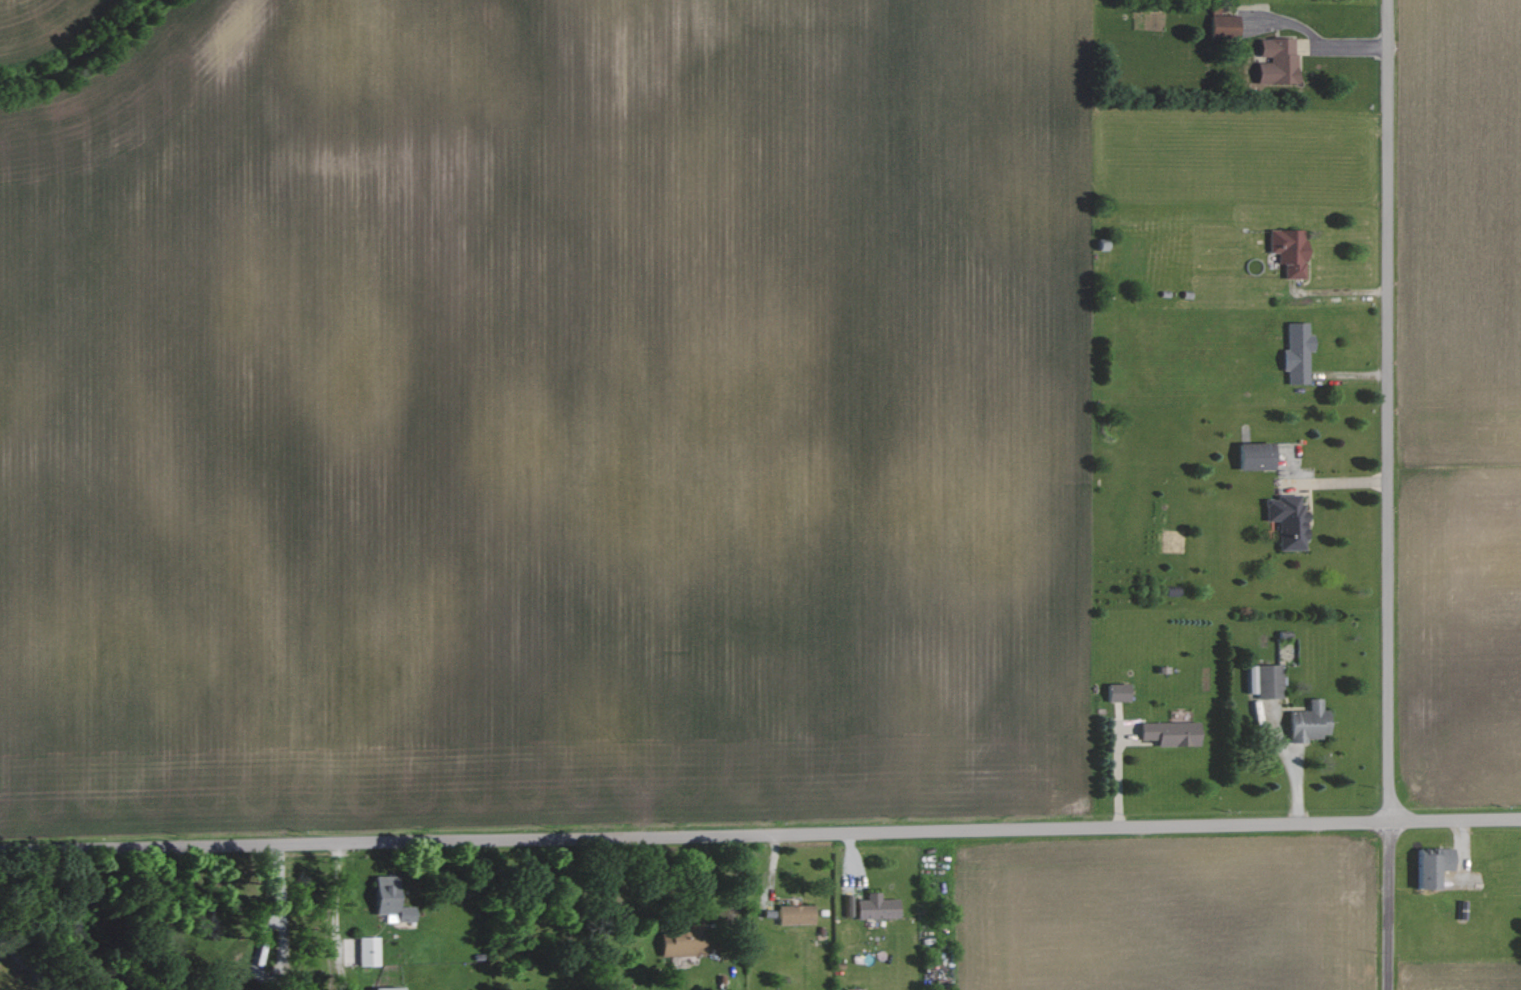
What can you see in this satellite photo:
building: (1225, 24)
building: (1279, 60)
building: (1291, 250)
building: (1299, 352)
road: (1389, 411)
building: (1257, 455)
building: (1289, 520)
building: (1266, 680)
building: (1119, 692)
building: (1311, 722)
building: (1172, 733)
road: (1456, 820)
road: (696, 836)
building: (1434, 866)
building: (850, 905)
road: (1390, 906)
building: (878, 907)
building: (797, 914)
building: (685, 941)
building: (369, 951)
building: (390, 988)
building: (855, 989)

